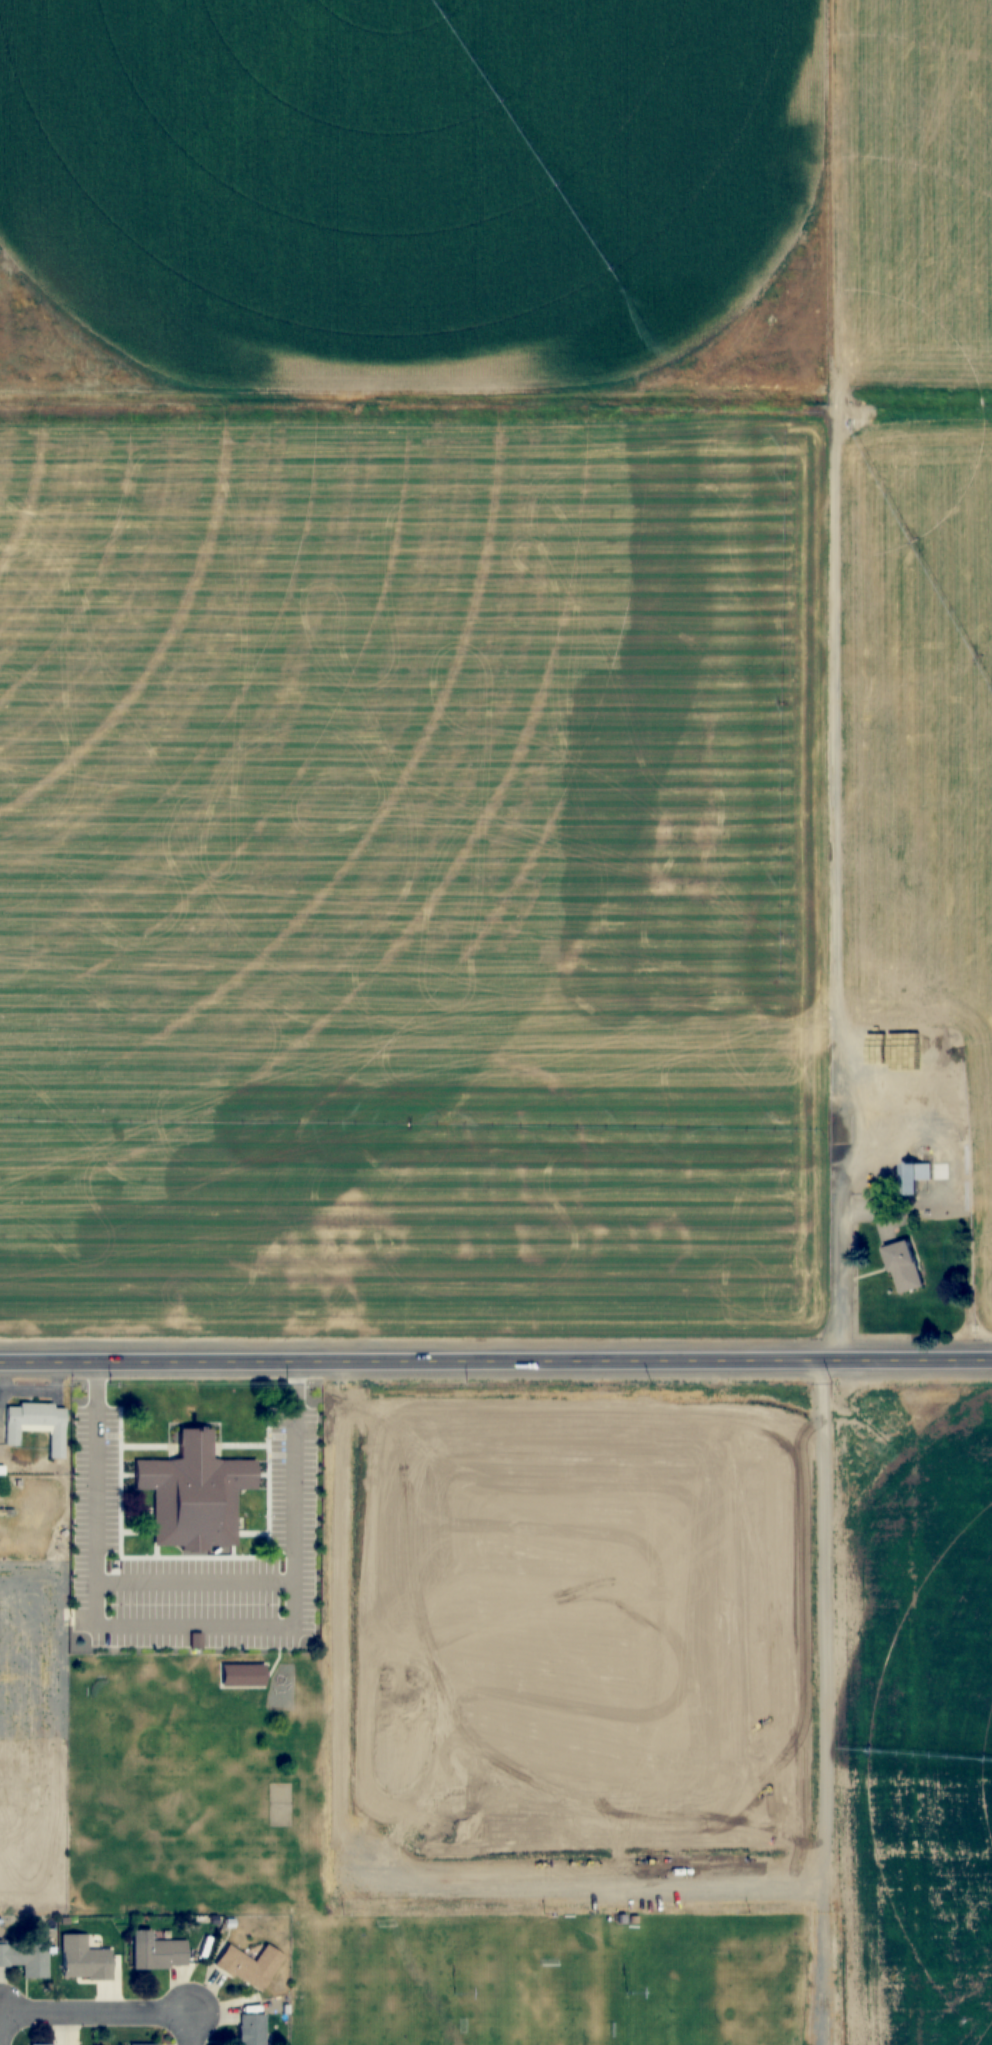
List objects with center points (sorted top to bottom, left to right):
building: (912, 1176)
building: (902, 1267)
road: (496, 1360)
building: (36, 1424)
building: (193, 1494)
parking lot: (289, 1508)
crop: (575, 1648)
building: (241, 1677)
crop: (922, 1728)
building: (823, 1876)
building: (153, 1948)
building: (83, 1956)
building: (26, 1959)
building: (249, 1962)
park: (368, 1987)
park: (543, 1999)
park: (704, 2000)
road: (98, 2013)
road: (195, 2027)
building: (252, 2028)
building: (40, 2043)
building: (141, 2043)

